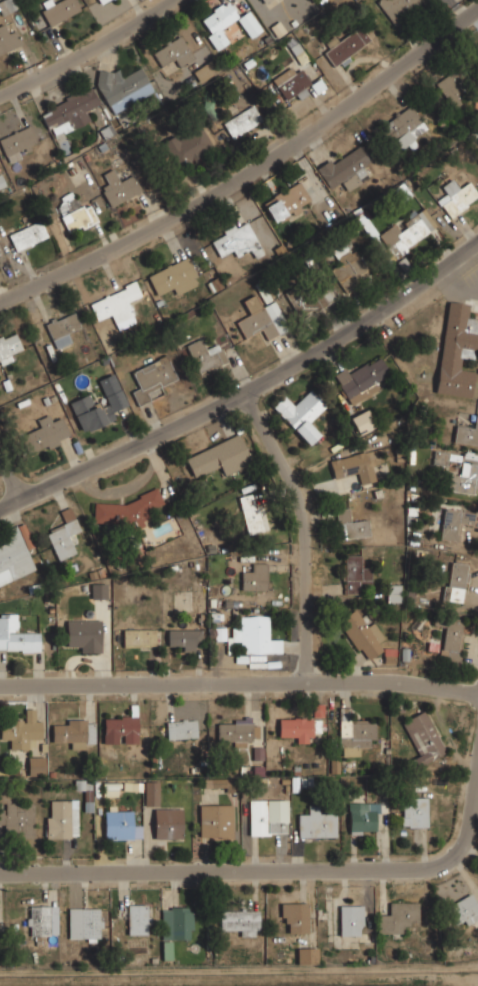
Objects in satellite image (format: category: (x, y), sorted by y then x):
building: (102, 1)
building: (266, 2)
building: (6, 6)
building: (397, 7)
building: (58, 10)
building: (226, 23)
building: (8, 38)
building: (346, 44)
road: (87, 49)
building: (172, 52)
building: (203, 71)
building: (292, 84)
building: (123, 86)
building: (454, 88)
building: (68, 110)
building: (242, 121)
building: (403, 127)
building: (16, 143)
building: (191, 148)
building: (346, 169)
road: (249, 171)
building: (2, 181)
building: (118, 186)
building: (456, 196)
building: (286, 202)
building: (75, 214)
building: (27, 234)
building: (404, 235)
building: (235, 240)
building: (346, 266)
building: (173, 276)
building: (310, 297)
building: (116, 303)
building: (263, 317)
building: (62, 328)
building: (8, 346)
building: (456, 349)
building: (205, 354)
building: (153, 373)
building: (361, 379)
road: (248, 391)
building: (95, 410)
building: (301, 413)
building: (362, 420)
building: (466, 432)
building: (45, 434)
building: (218, 457)
building: (439, 458)
building: (352, 467)
road: (10, 477)
building: (464, 479)
building: (121, 511)
building: (250, 512)
building: (453, 523)
building: (352, 525)
road: (304, 530)
building: (64, 534)
building: (14, 556)
building: (354, 574)
building: (254, 576)
building: (454, 581)
building: (98, 590)
building: (394, 592)
building: (359, 633)
building: (85, 634)
building: (16, 635)
building: (253, 635)
building: (138, 637)
building: (183, 639)
building: (451, 641)
road: (239, 681)
building: (121, 726)
building: (180, 728)
building: (296, 728)
building: (23, 730)
building: (72, 731)
building: (236, 731)
building: (354, 734)
building: (423, 737)
building: (32, 768)
building: (220, 784)
building: (151, 793)
building: (414, 811)
building: (268, 816)
building: (363, 817)
building: (17, 818)
building: (61, 818)
building: (215, 820)
road: (469, 820)
building: (167, 823)
building: (316, 823)
building: (120, 824)
road: (223, 873)
building: (463, 910)
building: (294, 915)
building: (397, 916)
building: (135, 917)
building: (41, 919)
building: (350, 919)
building: (240, 920)
building: (85, 924)
building: (175, 927)
building: (306, 955)

